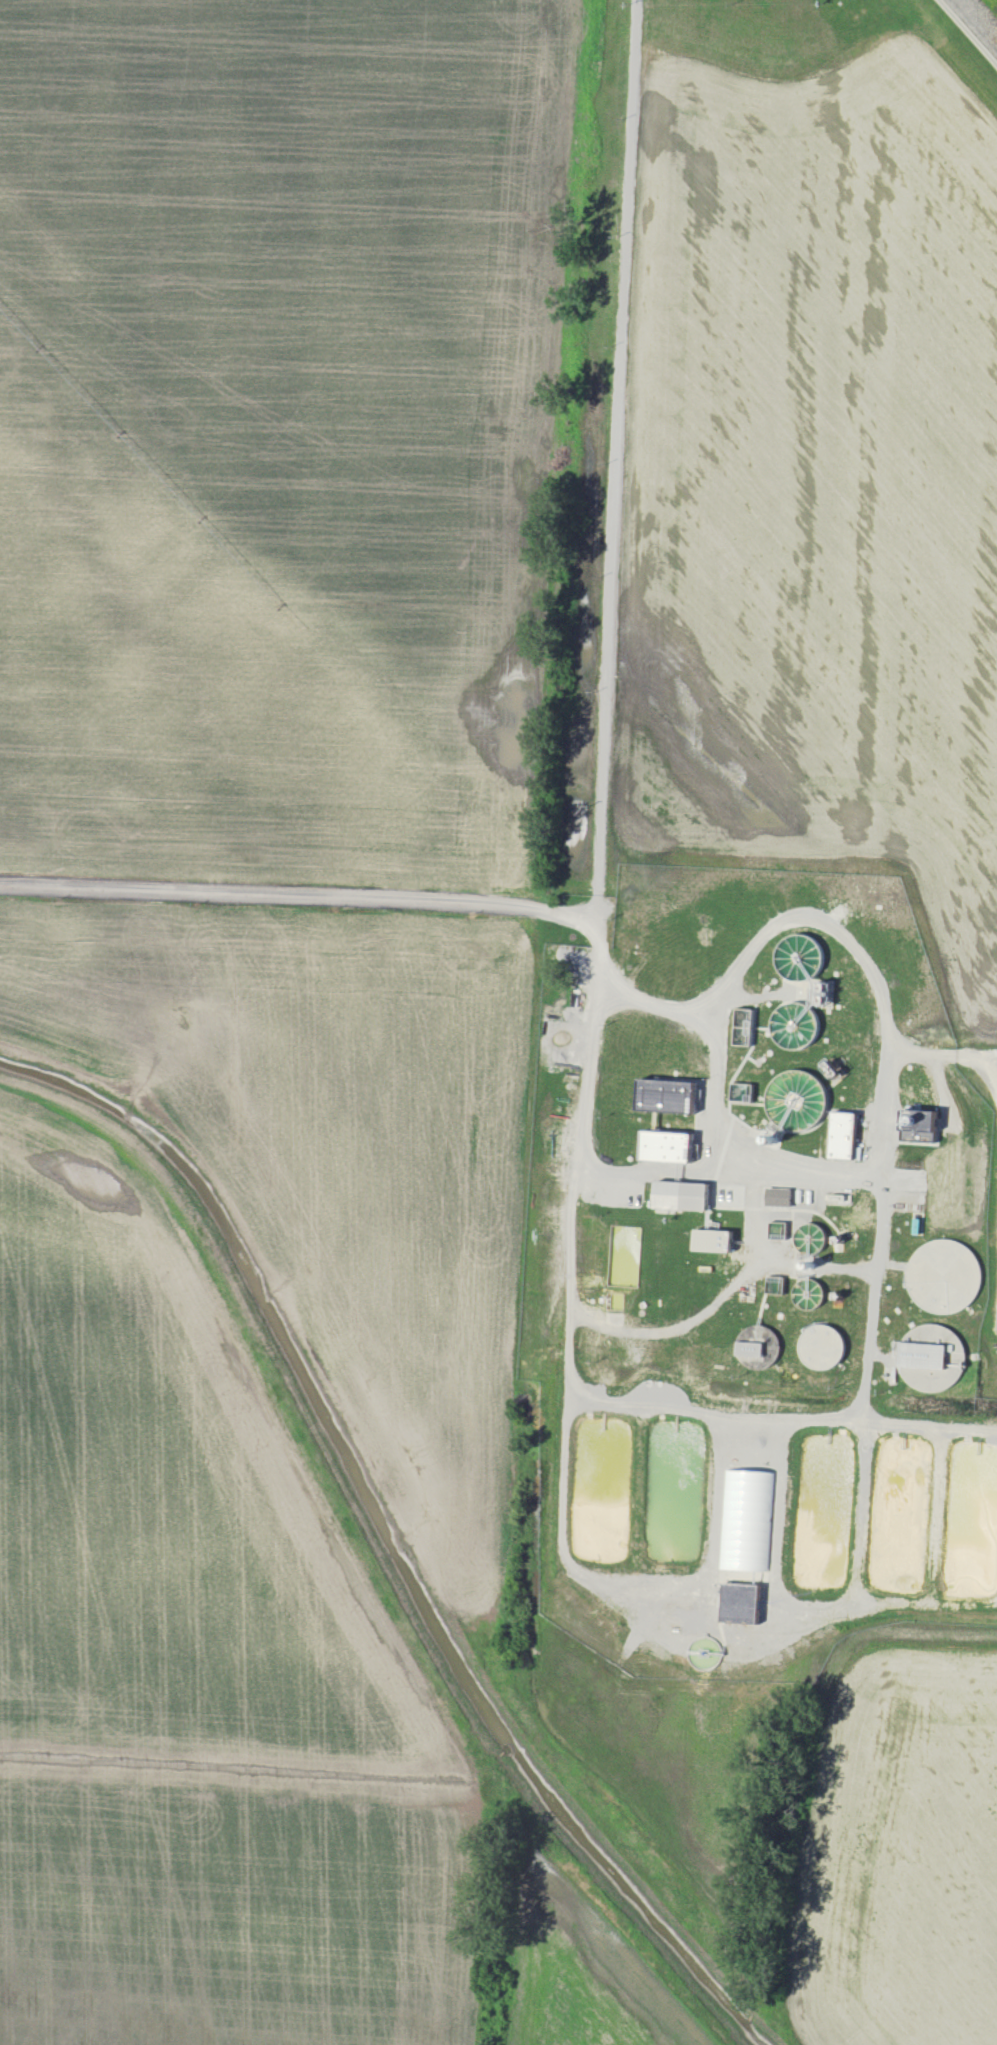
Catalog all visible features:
crop: (996, 0)
crop: (765, 34)
road: (964, 37)
crop: (271, 428)
crop: (814, 528)
road: (582, 913)
building: (743, 1091)
building: (667, 1094)
building: (798, 1099)
building: (844, 1134)
building: (667, 1146)
crop: (343, 1158)
building: (682, 1195)
building: (779, 1196)
building: (714, 1240)
wastewater plant: (753, 1299)
building: (753, 1340)
building: (823, 1346)
road: (695, 1413)
building: (748, 1520)
building: (742, 1602)
crop: (193, 1662)
crop: (896, 1852)

